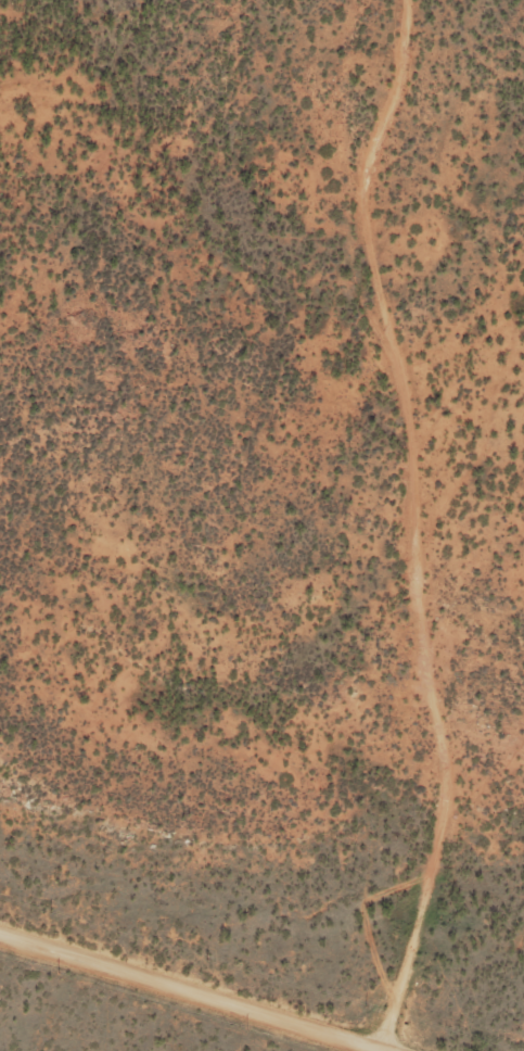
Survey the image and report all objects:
road: (443, 43)
road: (465, 352)
road: (412, 518)
road: (195, 991)

